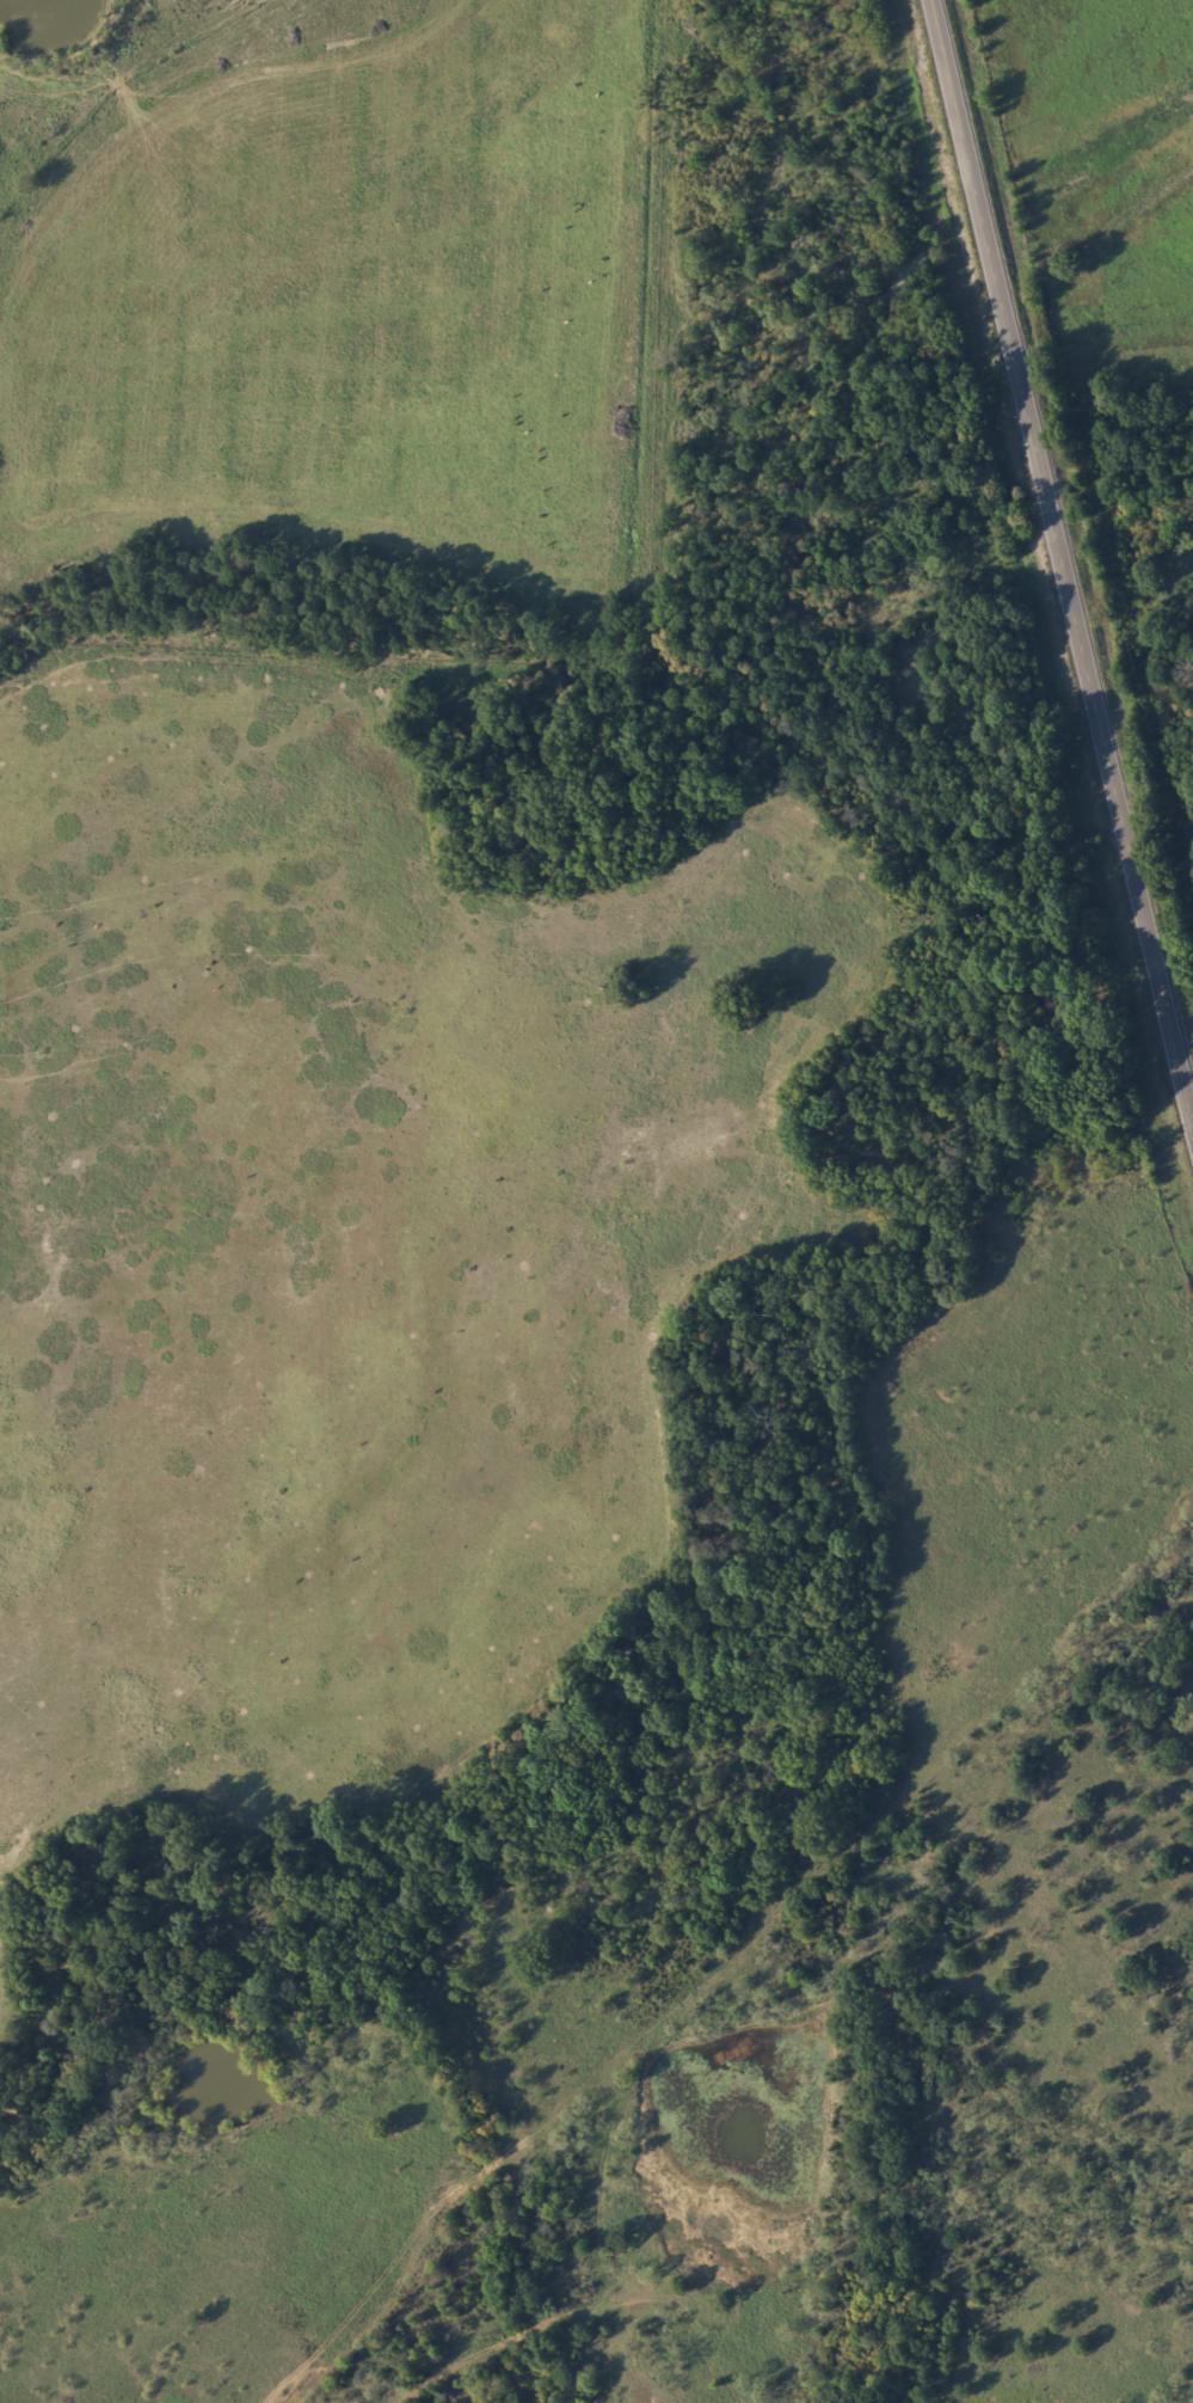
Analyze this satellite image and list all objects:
road: (1063, 562)

